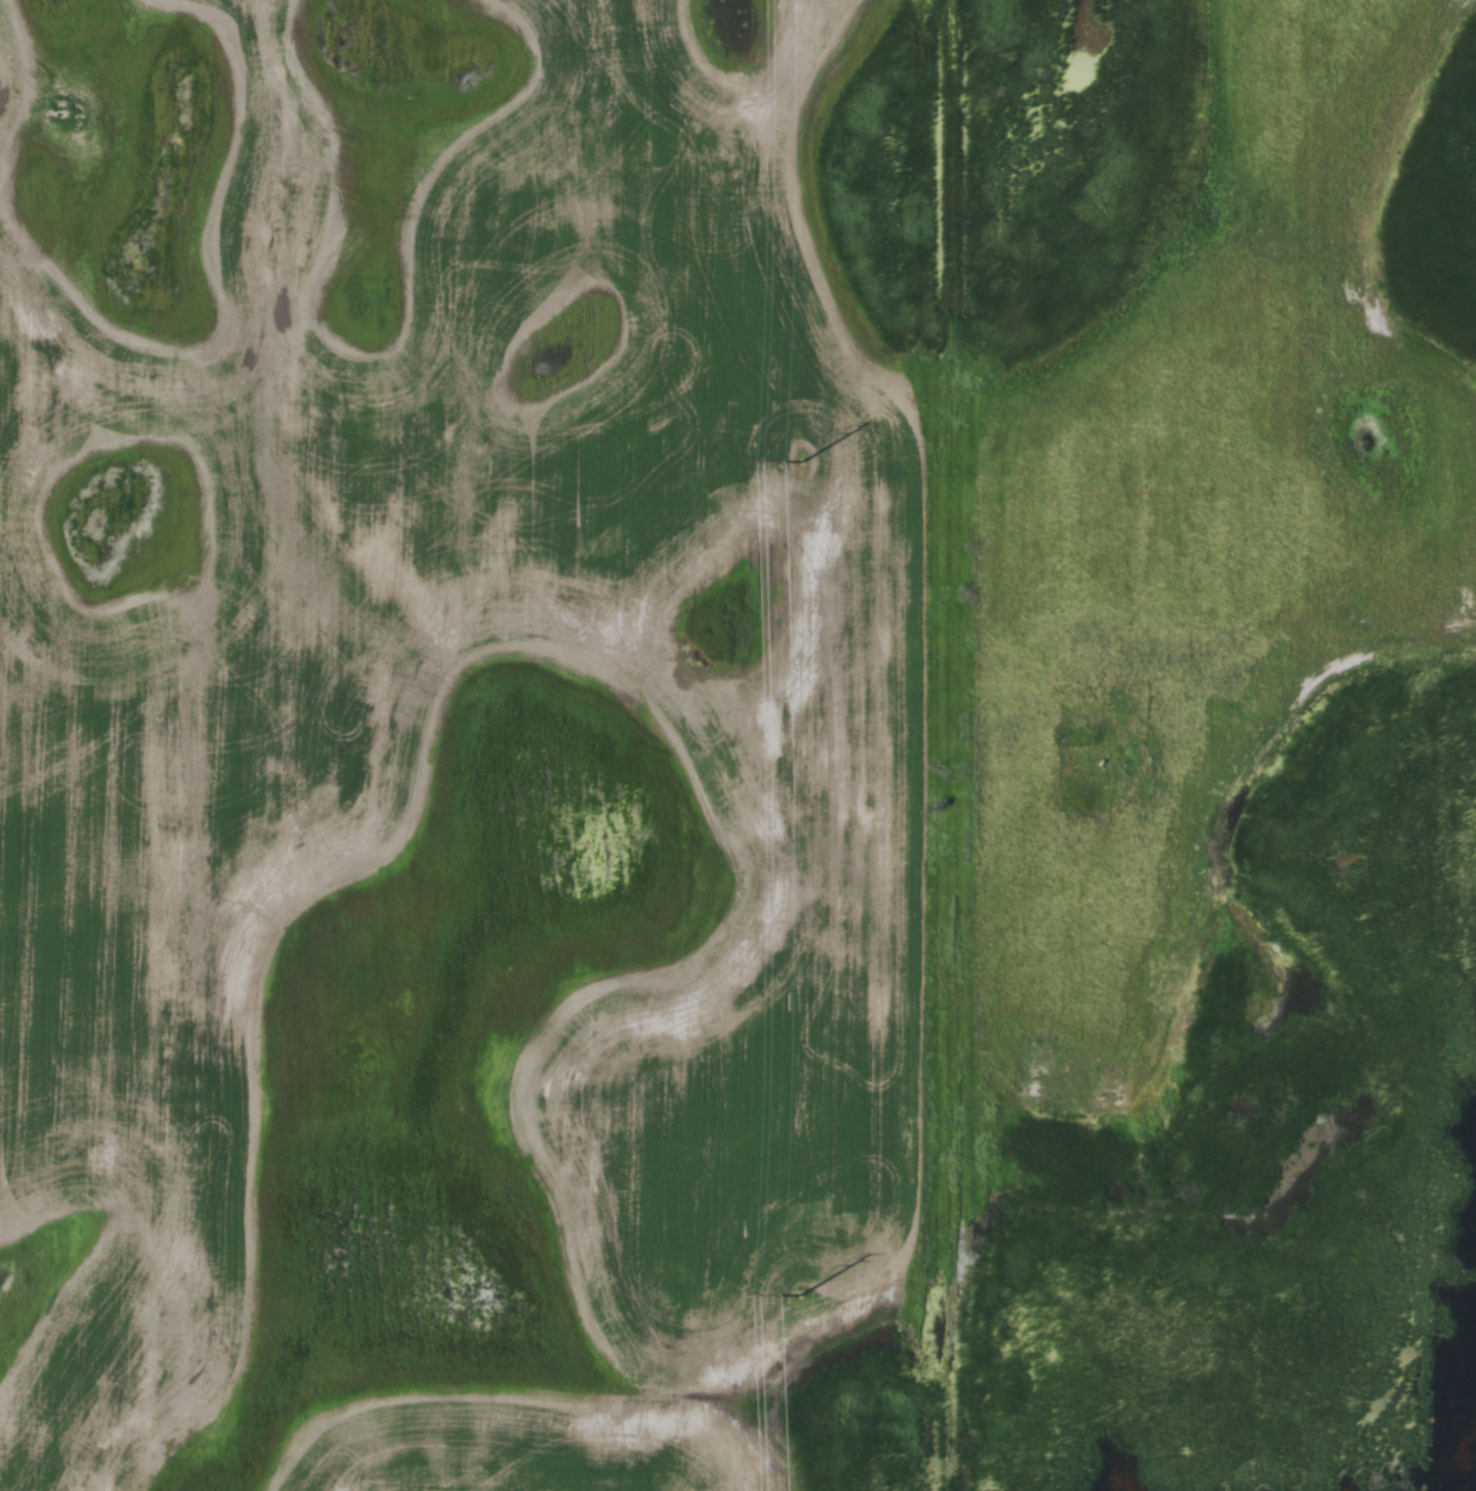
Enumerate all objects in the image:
power tower: (812, 457)
road: (953, 745)
power tower: (803, 1297)

